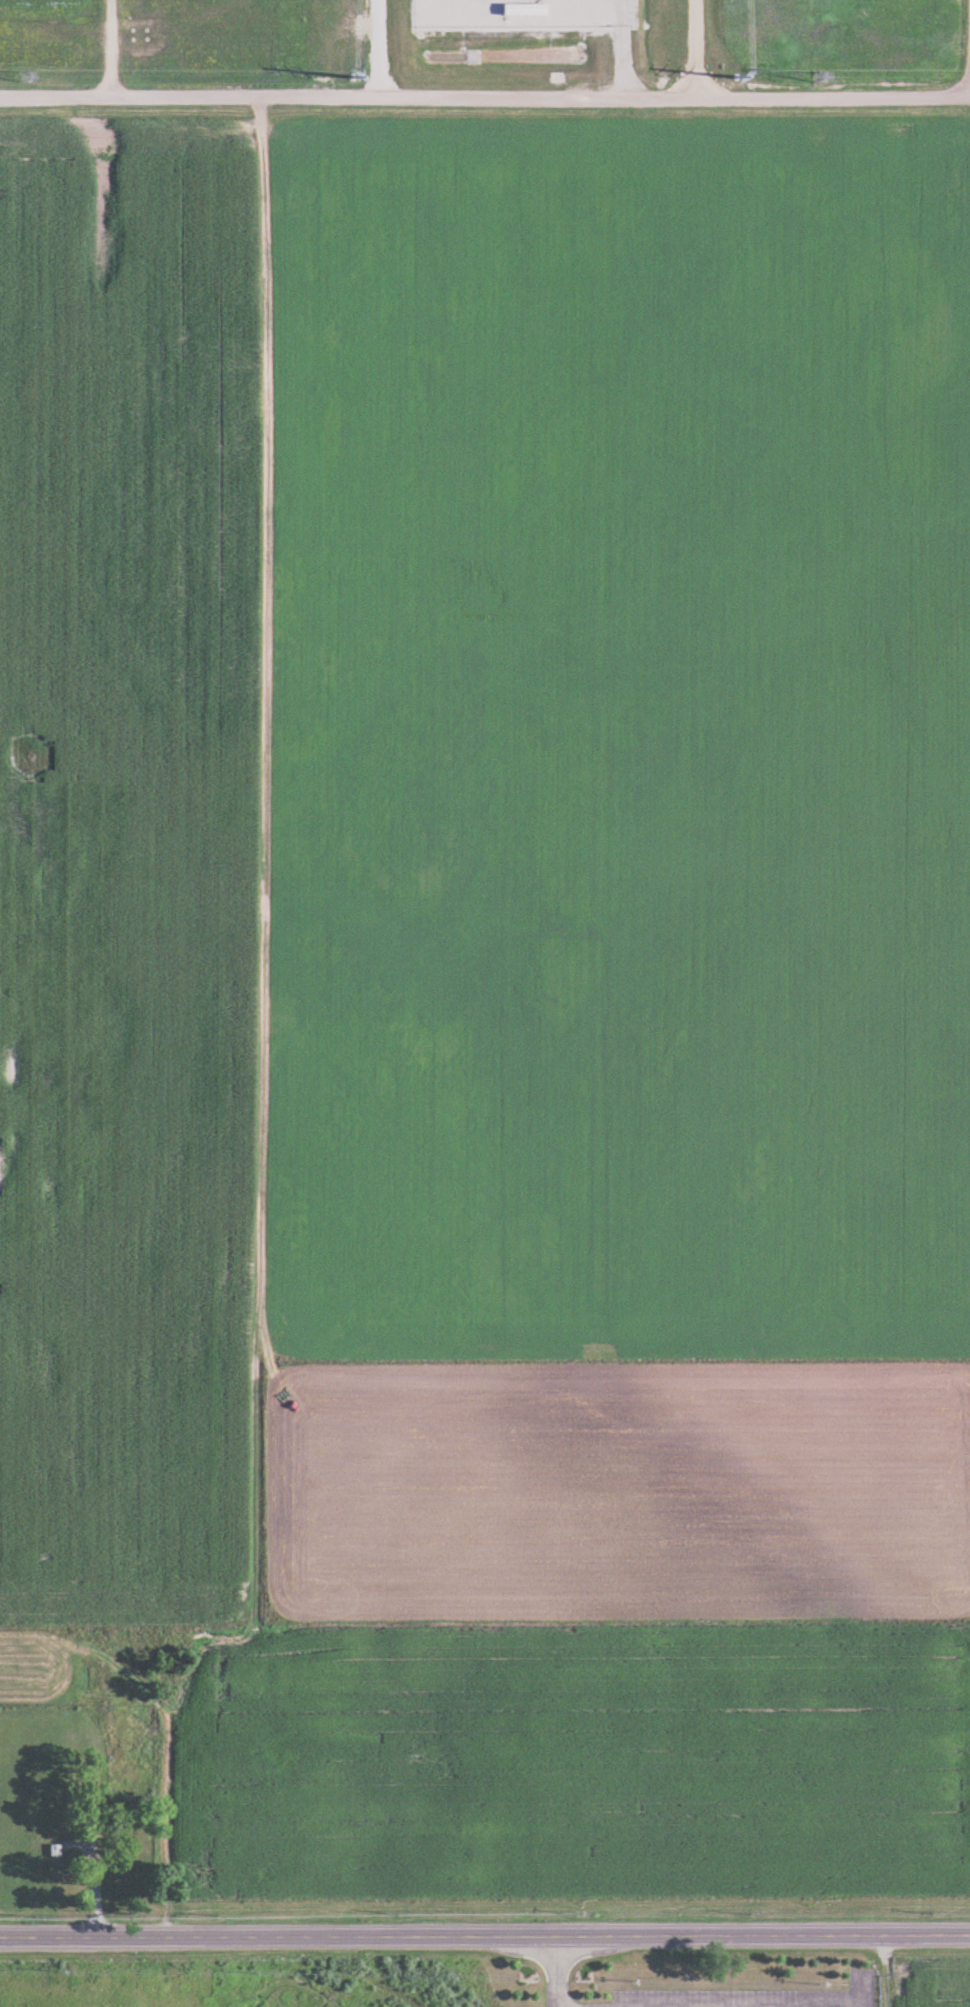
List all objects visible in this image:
building: (527, 8)
power substation: (524, 13)
road: (379, 48)
road: (695, 48)
road: (969, 50)
road: (624, 62)
power tower: (739, 75)
power tower: (28, 78)
power tower: (355, 78)
power tower: (821, 79)
road: (485, 97)
crop: (618, 739)
crop: (125, 866)
road: (257, 1040)
crop: (616, 1491)
crop: (576, 1762)
road: (92, 1881)
road: (484, 1935)
road: (885, 1970)
road: (557, 1971)
crop: (931, 1978)
parking lot: (701, 1998)
road: (732, 1999)
road: (799, 2003)

